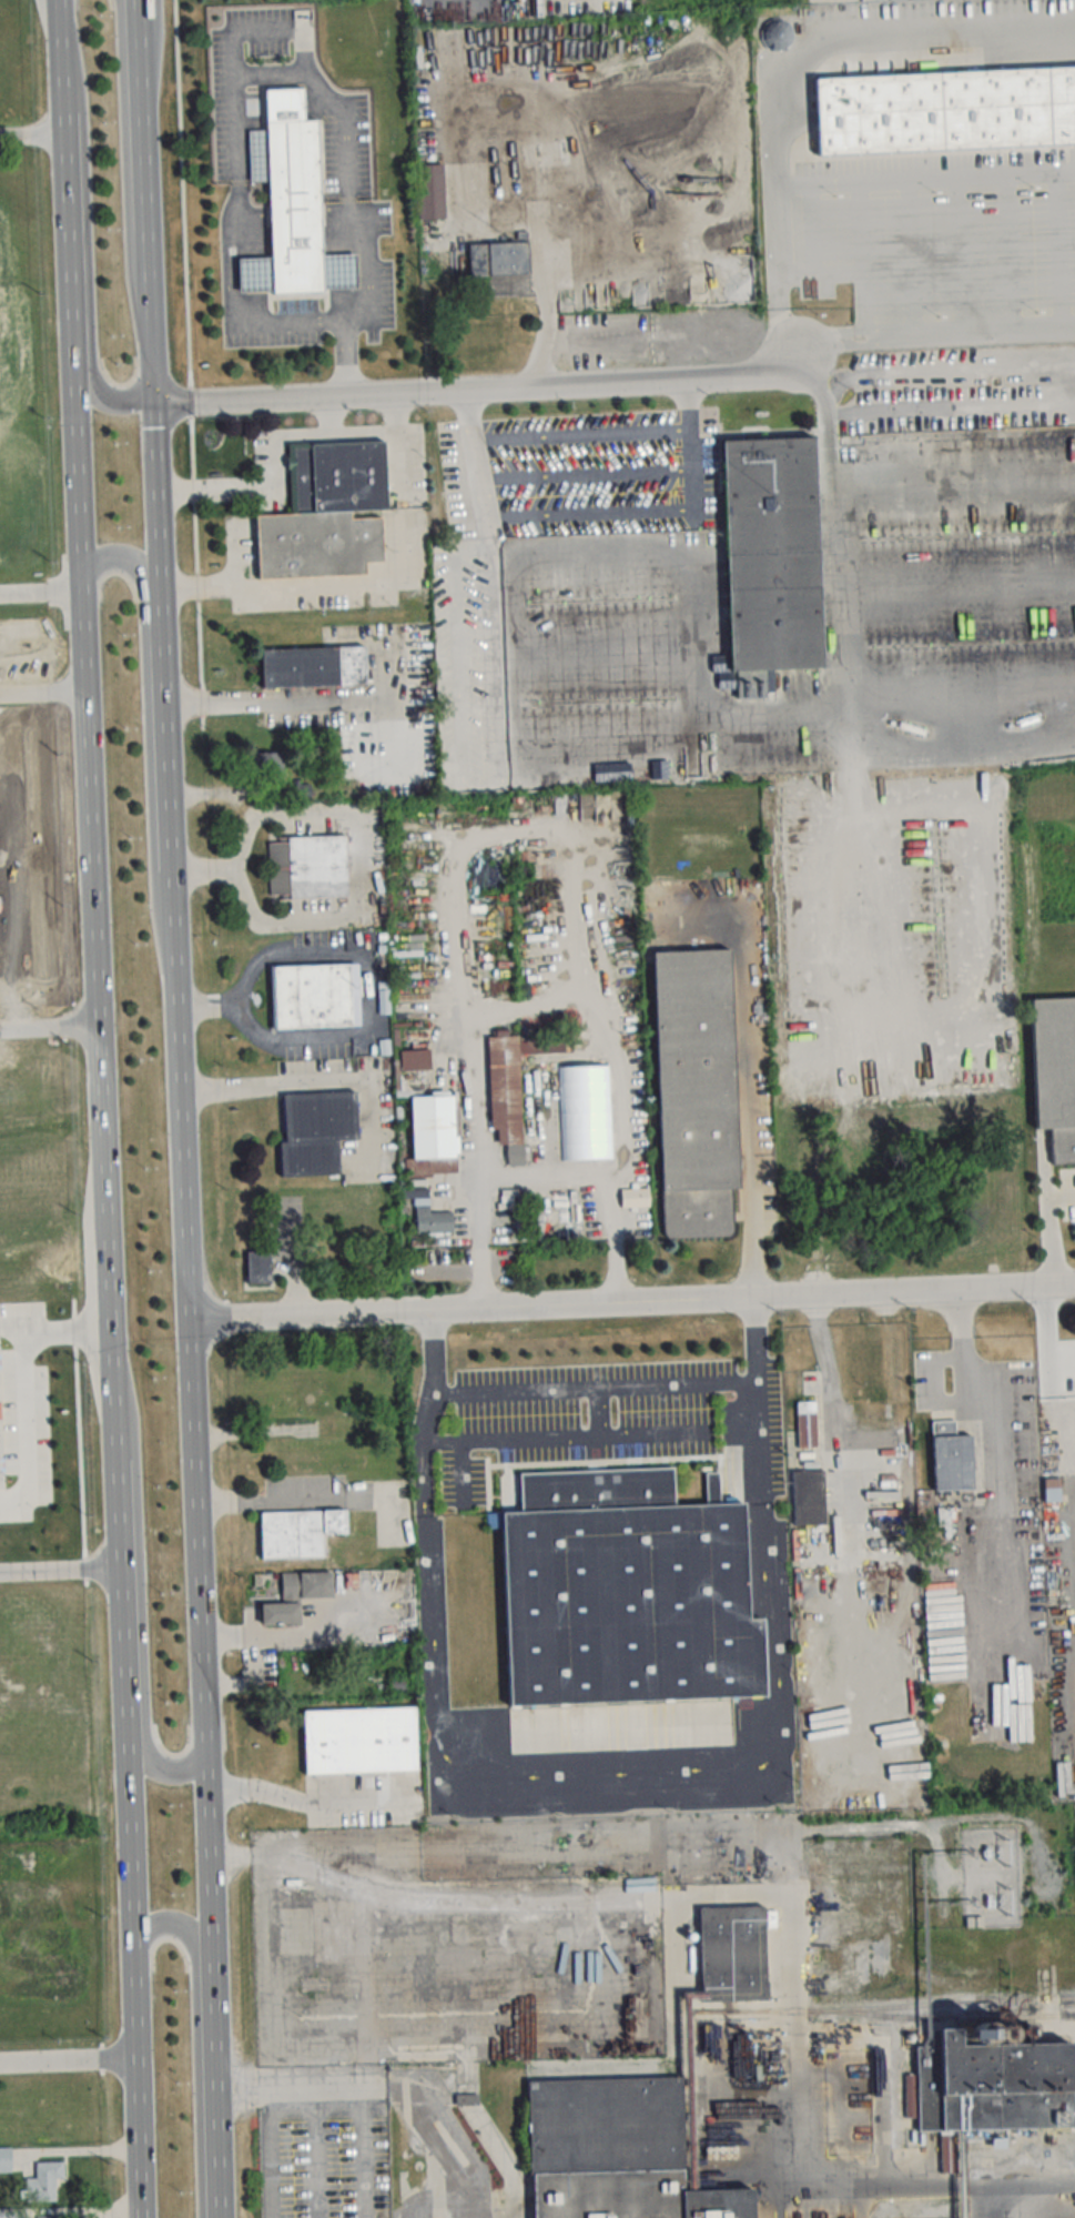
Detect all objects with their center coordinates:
road: (138, 17)
building: (775, 34)
road: (935, 36)
road: (233, 88)
building: (944, 111)
road: (31, 135)
road: (346, 138)
road: (125, 153)
road: (924, 178)
building: (429, 192)
road: (293, 210)
building: (297, 214)
road: (88, 230)
building: (497, 260)
road: (777, 276)
road: (365, 306)
road: (554, 311)
road: (240, 316)
road: (970, 329)
road: (467, 383)
road: (329, 412)
road: (273, 435)
road: (690, 441)
building: (325, 513)
road: (591, 514)
building: (771, 554)
road: (249, 586)
road: (39, 591)
building: (312, 667)
road: (146, 668)
road: (42, 688)
road: (283, 700)
road: (713, 710)
building: (649, 767)
road: (366, 860)
road: (203, 867)
building: (306, 867)
building: (314, 997)
road: (533, 998)
road: (367, 1009)
building: (845, 1017)
road: (49, 1025)
road: (748, 1036)
building: (413, 1060)
road: (314, 1079)
building: (1054, 1080)
building: (510, 1089)
building: (694, 1092)
road: (101, 1108)
road: (180, 1125)
building: (433, 1128)
building: (314, 1132)
road: (544, 1172)
building: (633, 1198)
building: (993, 1208)
building: (427, 1214)
road: (754, 1226)
road: (1048, 1227)
building: (1004, 1232)
building: (257, 1269)
road: (914, 1292)
road: (469, 1310)
road: (16, 1319)
road: (68, 1330)
road: (828, 1368)
road: (594, 1387)
road: (755, 1399)
road: (429, 1403)
building: (3, 1409)
building: (802, 1425)
road: (29, 1429)
building: (0, 1430)
road: (590, 1436)
building: (951, 1458)
building: (1051, 1490)
building: (808, 1498)
road: (290, 1499)
building: (297, 1532)
road: (60, 1574)
building: (305, 1584)
building: (626, 1591)
building: (280, 1613)
road: (284, 1635)
road: (143, 1692)
building: (358, 1741)
road: (596, 1772)
road: (305, 1802)
power substation: (990, 1875)
road: (586, 1904)
building: (731, 1953)
railway: (950, 1999)
railway: (883, 2013)
road: (197, 2041)
road: (880, 2065)
road: (68, 2067)
road: (348, 2085)
building: (990, 2089)
road: (315, 2150)
road: (273, 2151)
building: (615, 2153)
building: (4, 2159)
building: (43, 2181)
road: (900, 2186)
building: (11, 2212)
building: (49, 2217)
building: (895, 2217)

